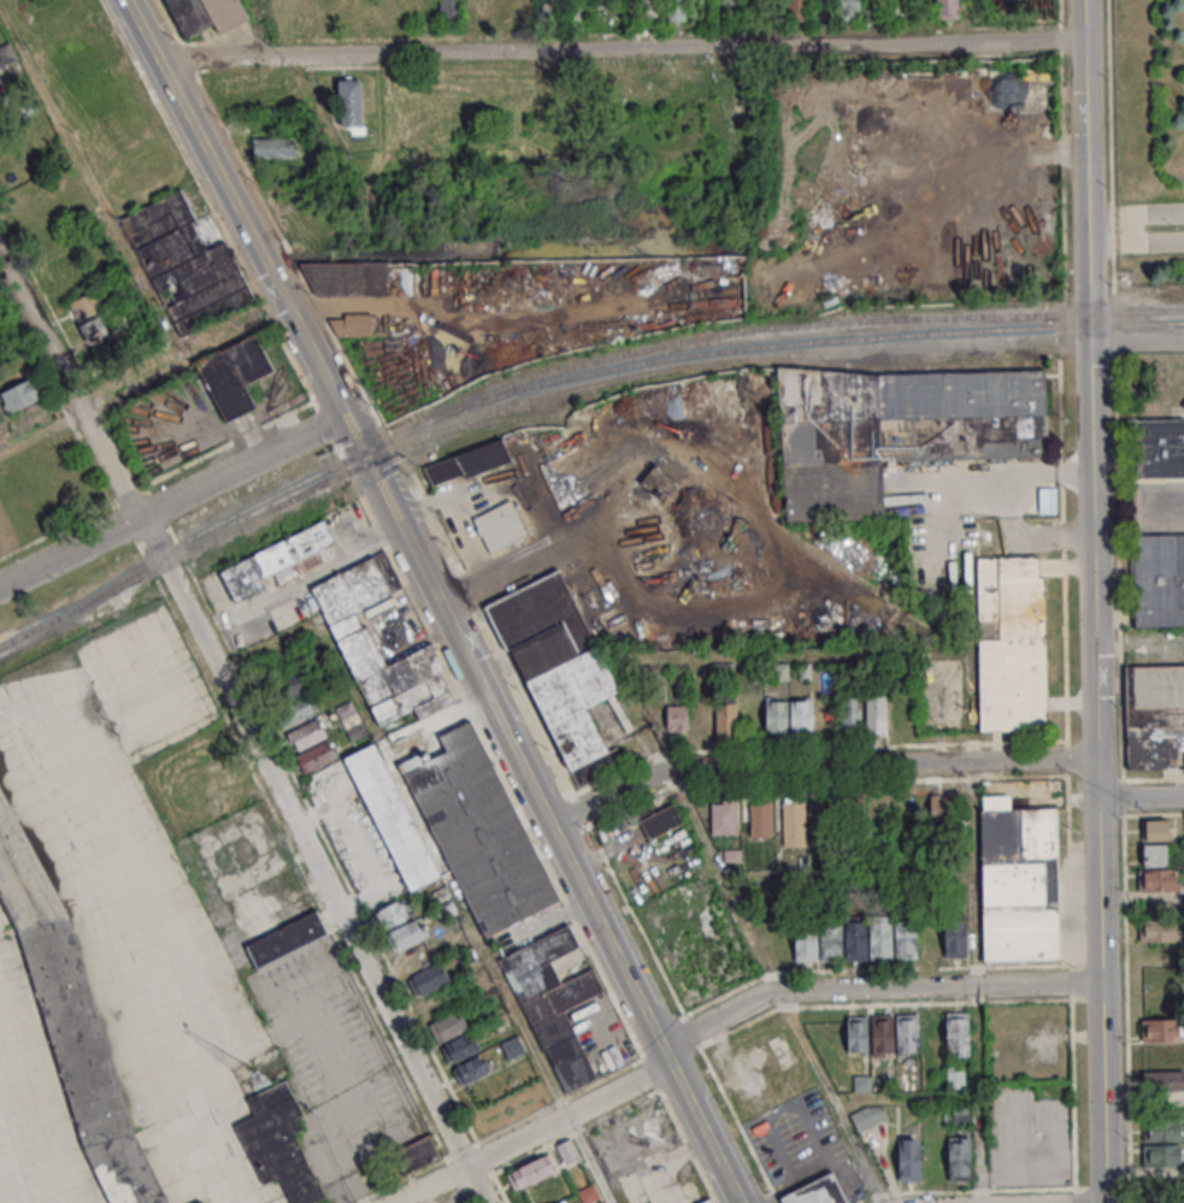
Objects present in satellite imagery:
building: (735, 5)
building: (648, 8)
building: (799, 8)
building: (947, 8)
building: (449, 10)
building: (552, 10)
building: (676, 10)
building: (848, 10)
building: (475, 11)
building: (205, 14)
road: (1058, 14)
road: (1059, 39)
road: (619, 48)
building: (6, 55)
building: (349, 102)
road: (1108, 146)
building: (272, 148)
road: (1062, 173)
road: (90, 183)
road: (1133, 212)
road: (1135, 243)
road: (500, 261)
building: (185, 264)
building: (346, 278)
building: (84, 307)
road: (1112, 308)
road: (1065, 311)
building: (357, 324)
railway: (796, 324)
building: (95, 329)
road: (1136, 342)
railway: (765, 344)
railway: (824, 361)
building: (235, 376)
road: (142, 378)
road: (325, 379)
building: (19, 395)
railway: (537, 399)
railway: (478, 424)
building: (897, 431)
building: (1160, 448)
building: (467, 462)
road: (171, 501)
railway: (260, 501)
building: (500, 526)
building: (275, 562)
road: (493, 571)
building: (1158, 578)
railway: (106, 579)
road: (1092, 601)
building: (348, 626)
railway: (29, 631)
building: (1012, 642)
building: (558, 665)
building: (291, 701)
building: (850, 709)
building: (876, 713)
building: (675, 714)
building: (801, 715)
building: (777, 717)
building: (1155, 717)
building: (702, 718)
building: (349, 719)
building: (726, 719)
road: (246, 727)
building: (312, 745)
road: (879, 763)
building: (224, 776)
road: (607, 797)
road: (1139, 797)
building: (858, 798)
building: (941, 807)
building: (393, 815)
building: (824, 815)
building: (723, 816)
building: (758, 818)
building: (660, 820)
building: (794, 822)
building: (1155, 828)
building: (478, 830)
building: (1154, 854)
road: (440, 861)
building: (1158, 879)
building: (1019, 880)
building: (396, 912)
building: (1158, 930)
building: (955, 932)
building: (405, 934)
building: (856, 938)
building: (285, 939)
building: (435, 983)
road: (628, 983)
road: (773, 986)
road: (873, 986)
building: (555, 999)
building: (71, 1022)
building: (448, 1026)
building: (1161, 1028)
building: (907, 1032)
building: (856, 1033)
building: (883, 1033)
building: (956, 1033)
building: (461, 1046)
building: (512, 1046)
building: (473, 1068)
building: (955, 1075)
building: (1164, 1080)
building: (965, 1113)
building: (868, 1115)
building: (1162, 1130)
road: (535, 1133)
building: (278, 1145)
road: (22, 1146)
building: (567, 1150)
building: (416, 1154)
building: (1162, 1155)
building: (959, 1157)
building: (909, 1158)
building: (531, 1172)
road: (794, 1184)
building: (817, 1191)
building: (589, 1193)
building: (204, 1202)
building: (561, 1202)
building: (711, 1202)

